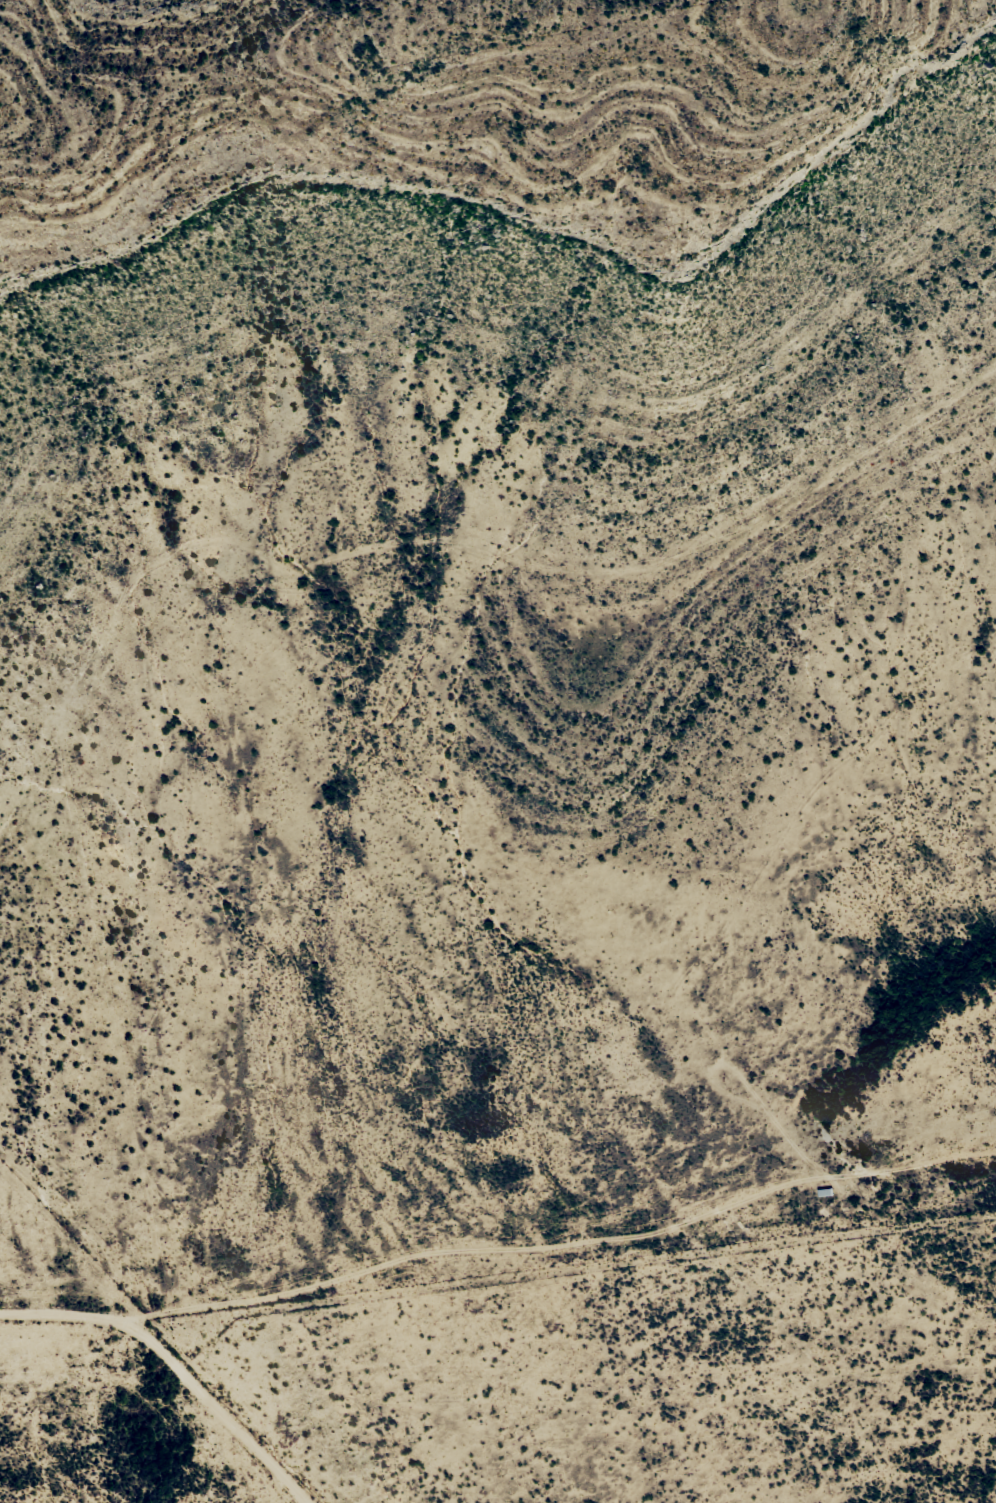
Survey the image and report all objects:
road: (169, 1369)

